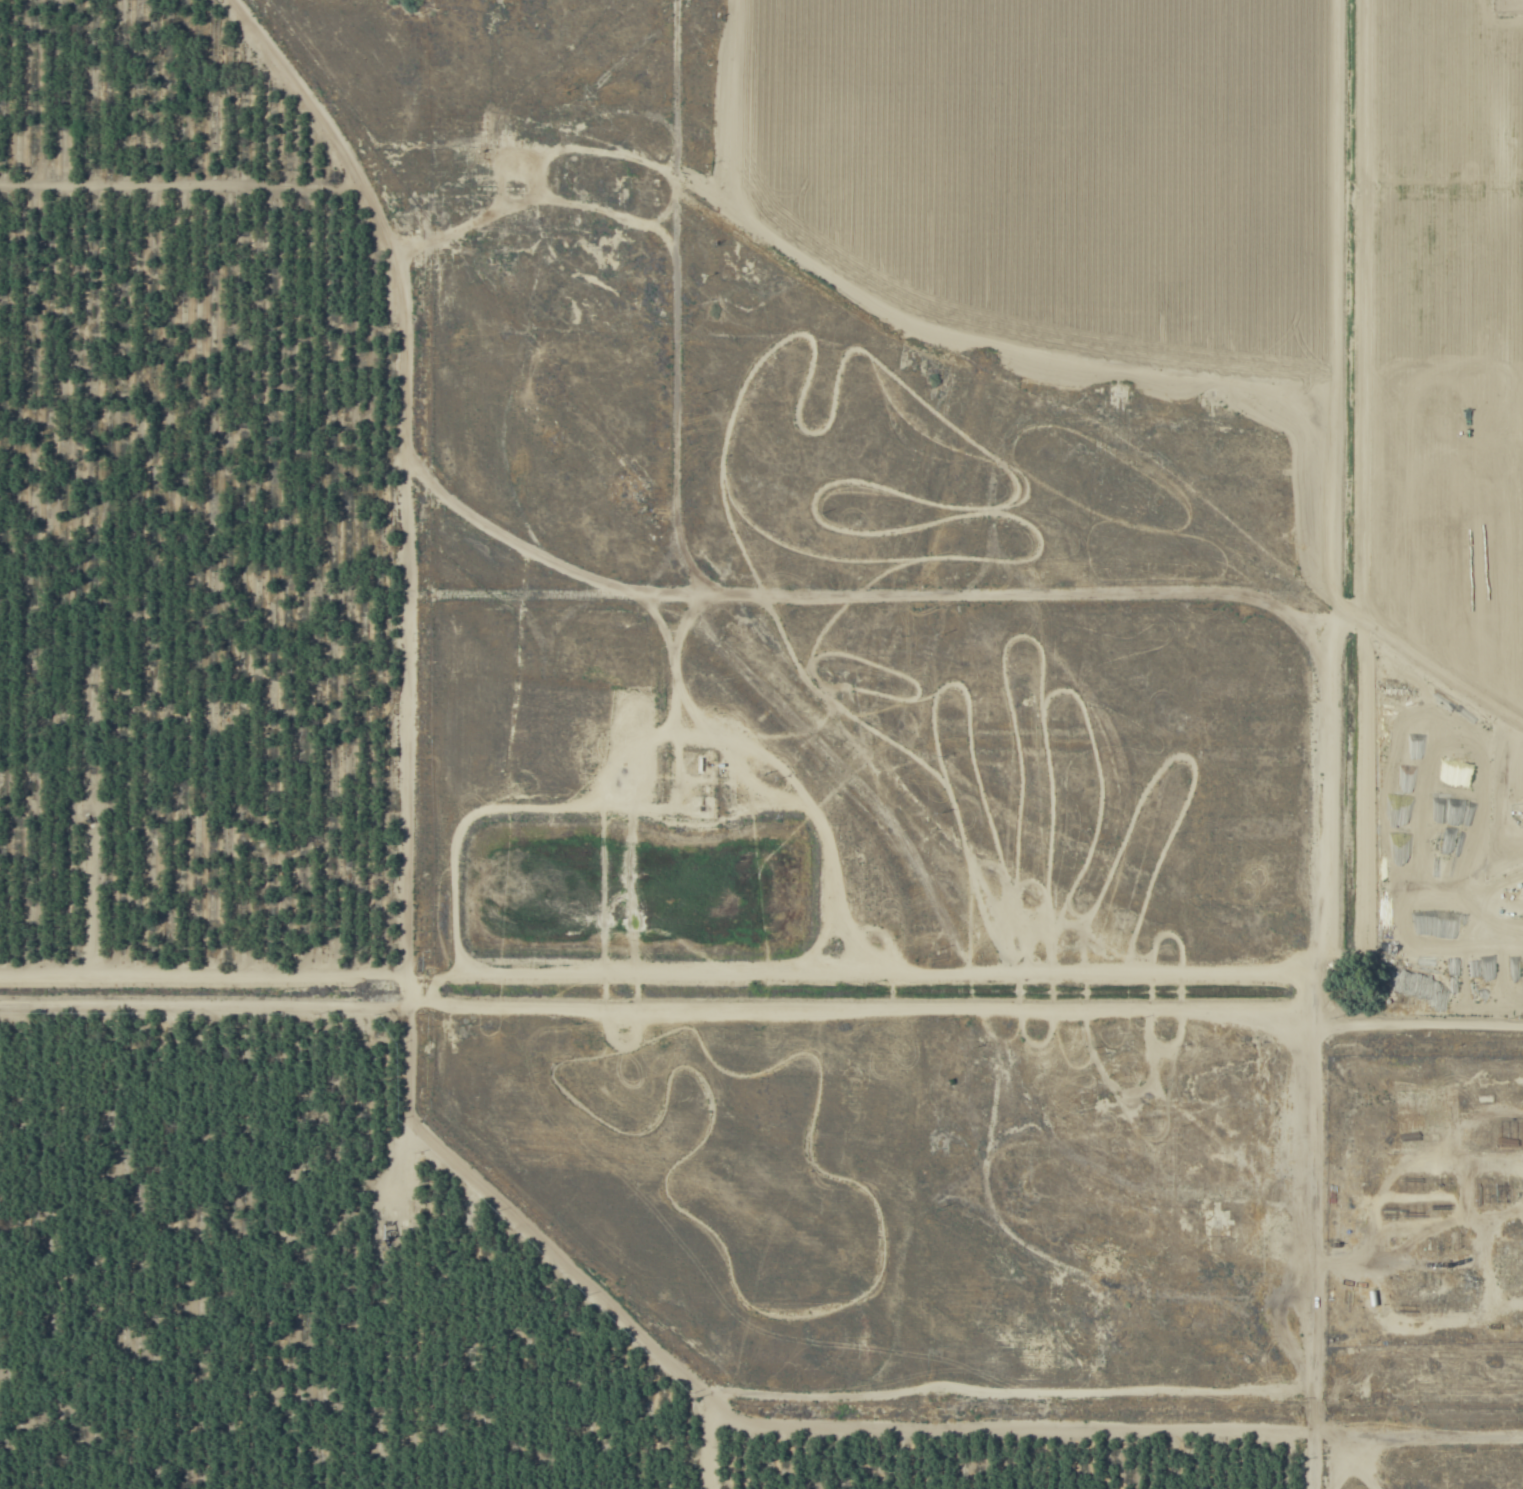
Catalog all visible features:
road: (729, 126)
road: (361, 159)
crop: (761, 744)
road: (1327, 744)
road: (662, 1010)
road: (750, 1422)
road: (1422, 1437)
road: (1362, 1463)

